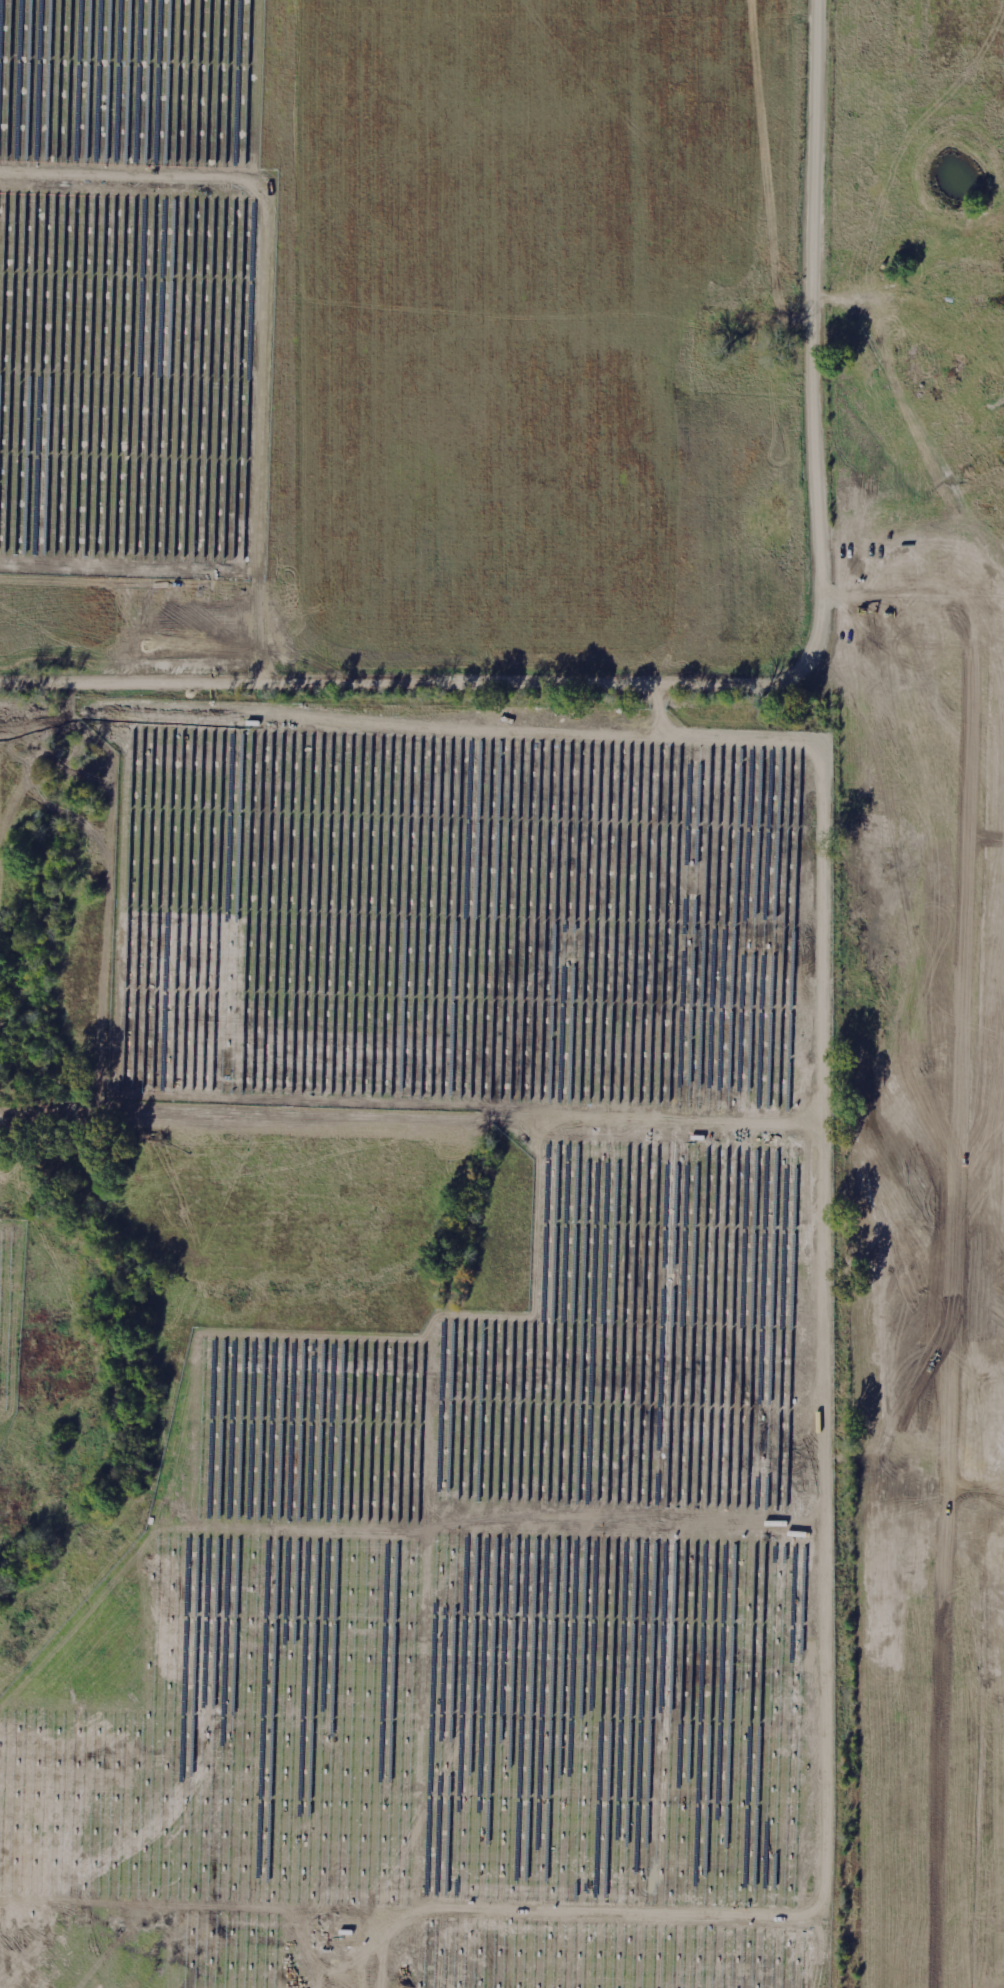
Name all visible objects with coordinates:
solar farm: (133, 287)
road: (743, 686)
solar farm: (11, 1319)
solar farm: (473, 1385)

